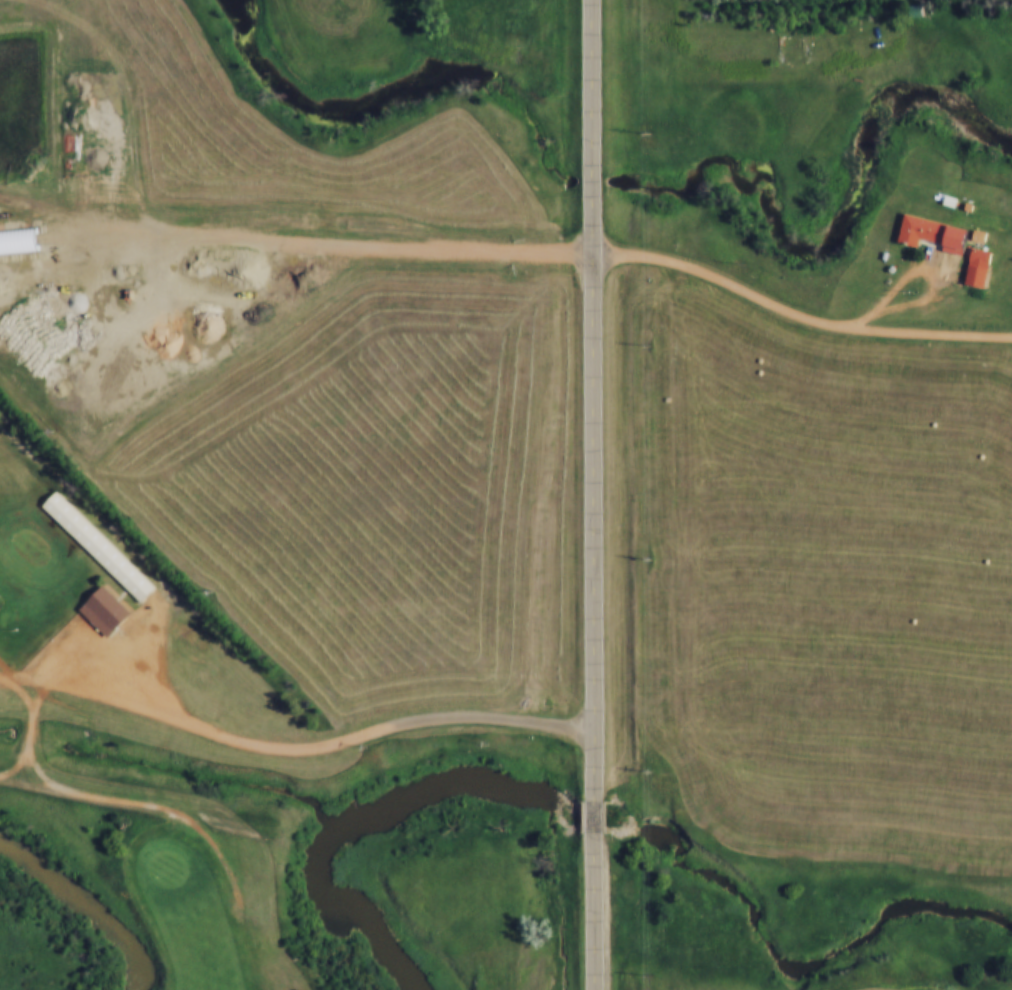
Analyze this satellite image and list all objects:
building: (914, 9)
building: (940, 197)
building: (958, 203)
building: (911, 228)
building: (969, 233)
building: (948, 238)
road: (399, 247)
building: (971, 254)
road: (798, 310)
road: (595, 398)
building: (90, 546)
building: (98, 610)
road: (23, 682)
road: (36, 733)
road: (319, 745)
park: (118, 764)
road: (144, 806)
road: (595, 813)
road: (594, 909)
road: (909, 975)

